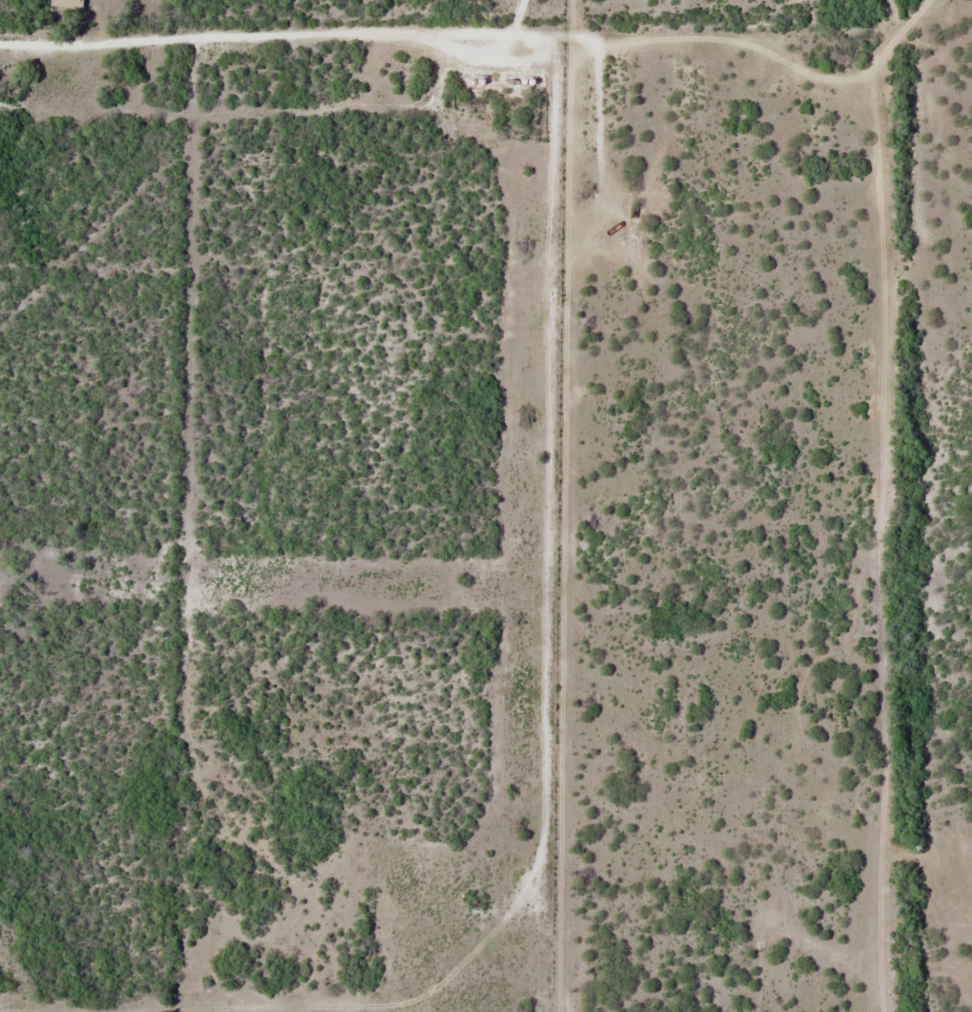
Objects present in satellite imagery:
building: (65, 3)
road: (272, 36)

